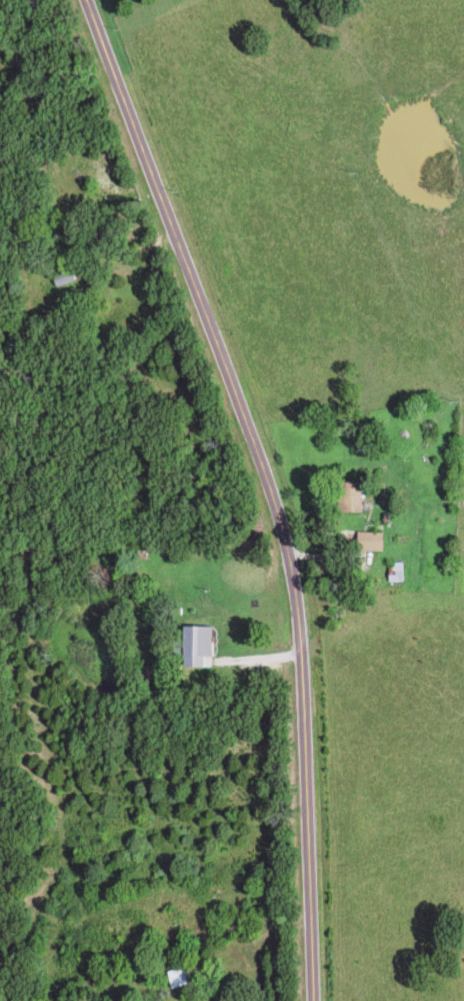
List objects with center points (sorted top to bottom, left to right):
road: (265, 486)
building: (374, 540)
building: (200, 643)

